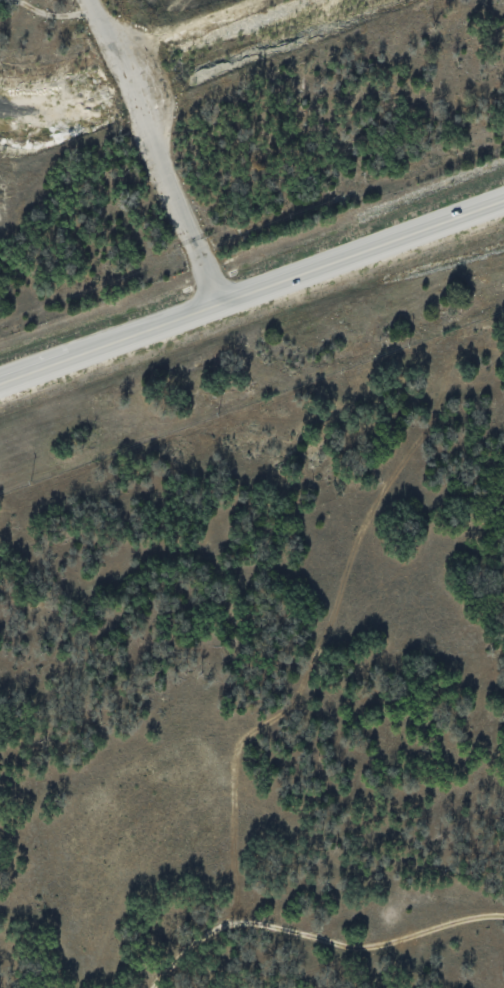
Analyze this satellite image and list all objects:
road: (152, 152)
road: (251, 291)

